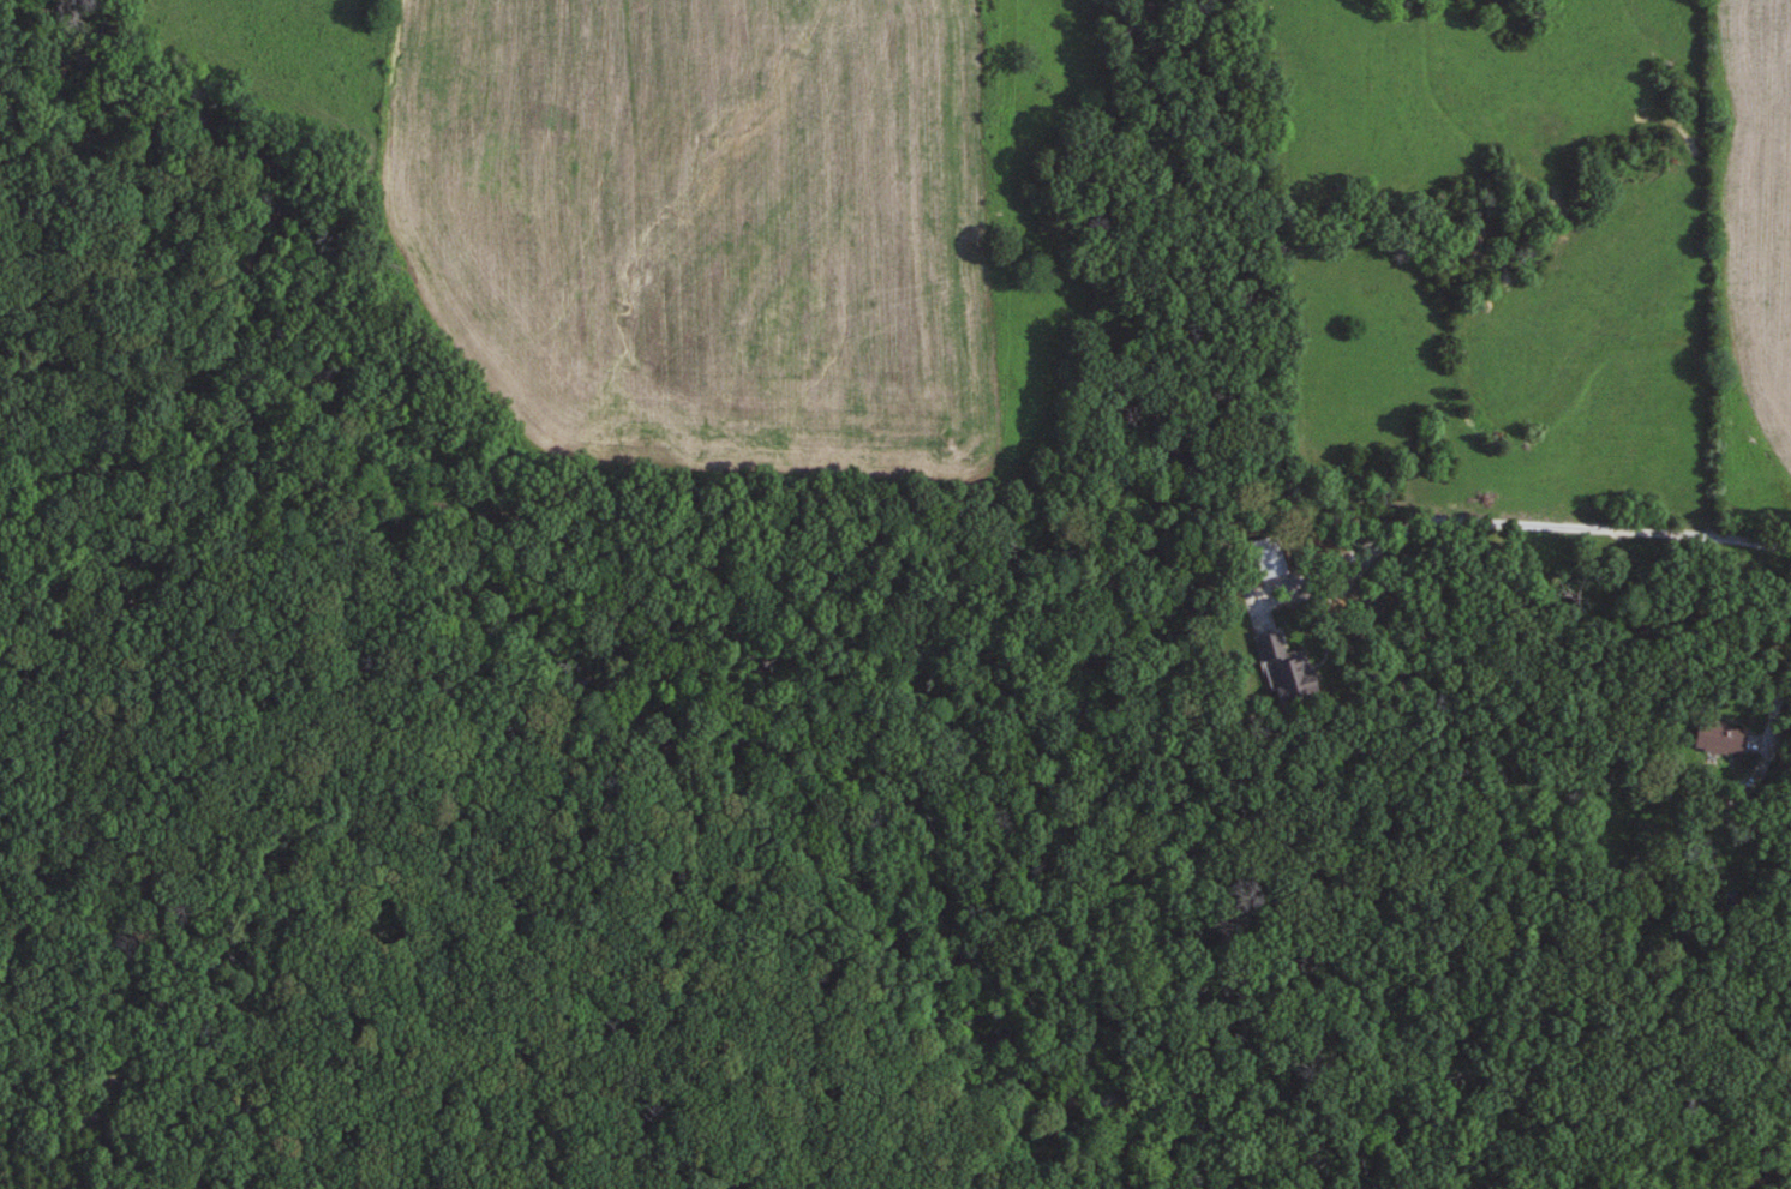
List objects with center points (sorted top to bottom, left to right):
road: (1509, 522)
road: (1772, 704)

